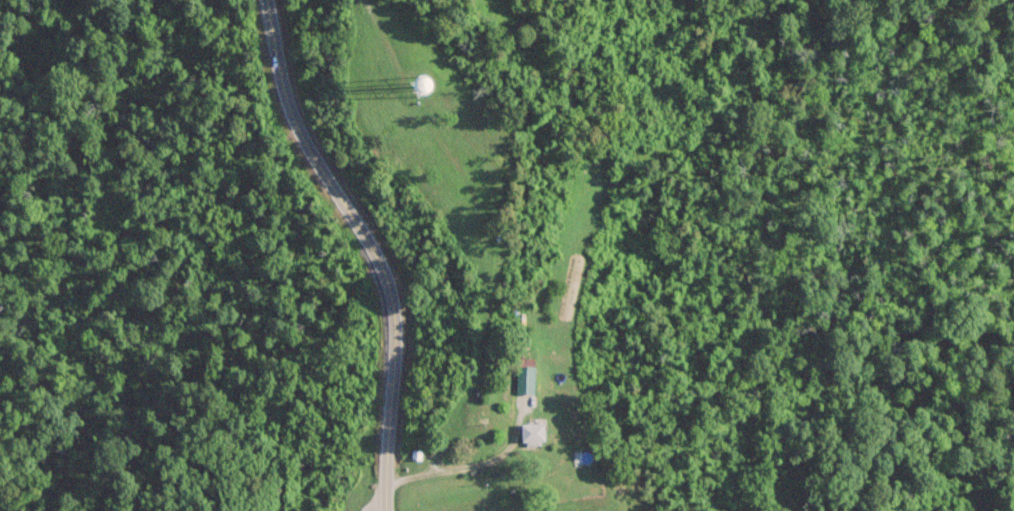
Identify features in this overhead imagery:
road: (277, 83)
water tower: (406, 84)
road: (391, 325)
road: (226, 371)
building: (523, 380)
building: (532, 433)
road: (467, 466)

